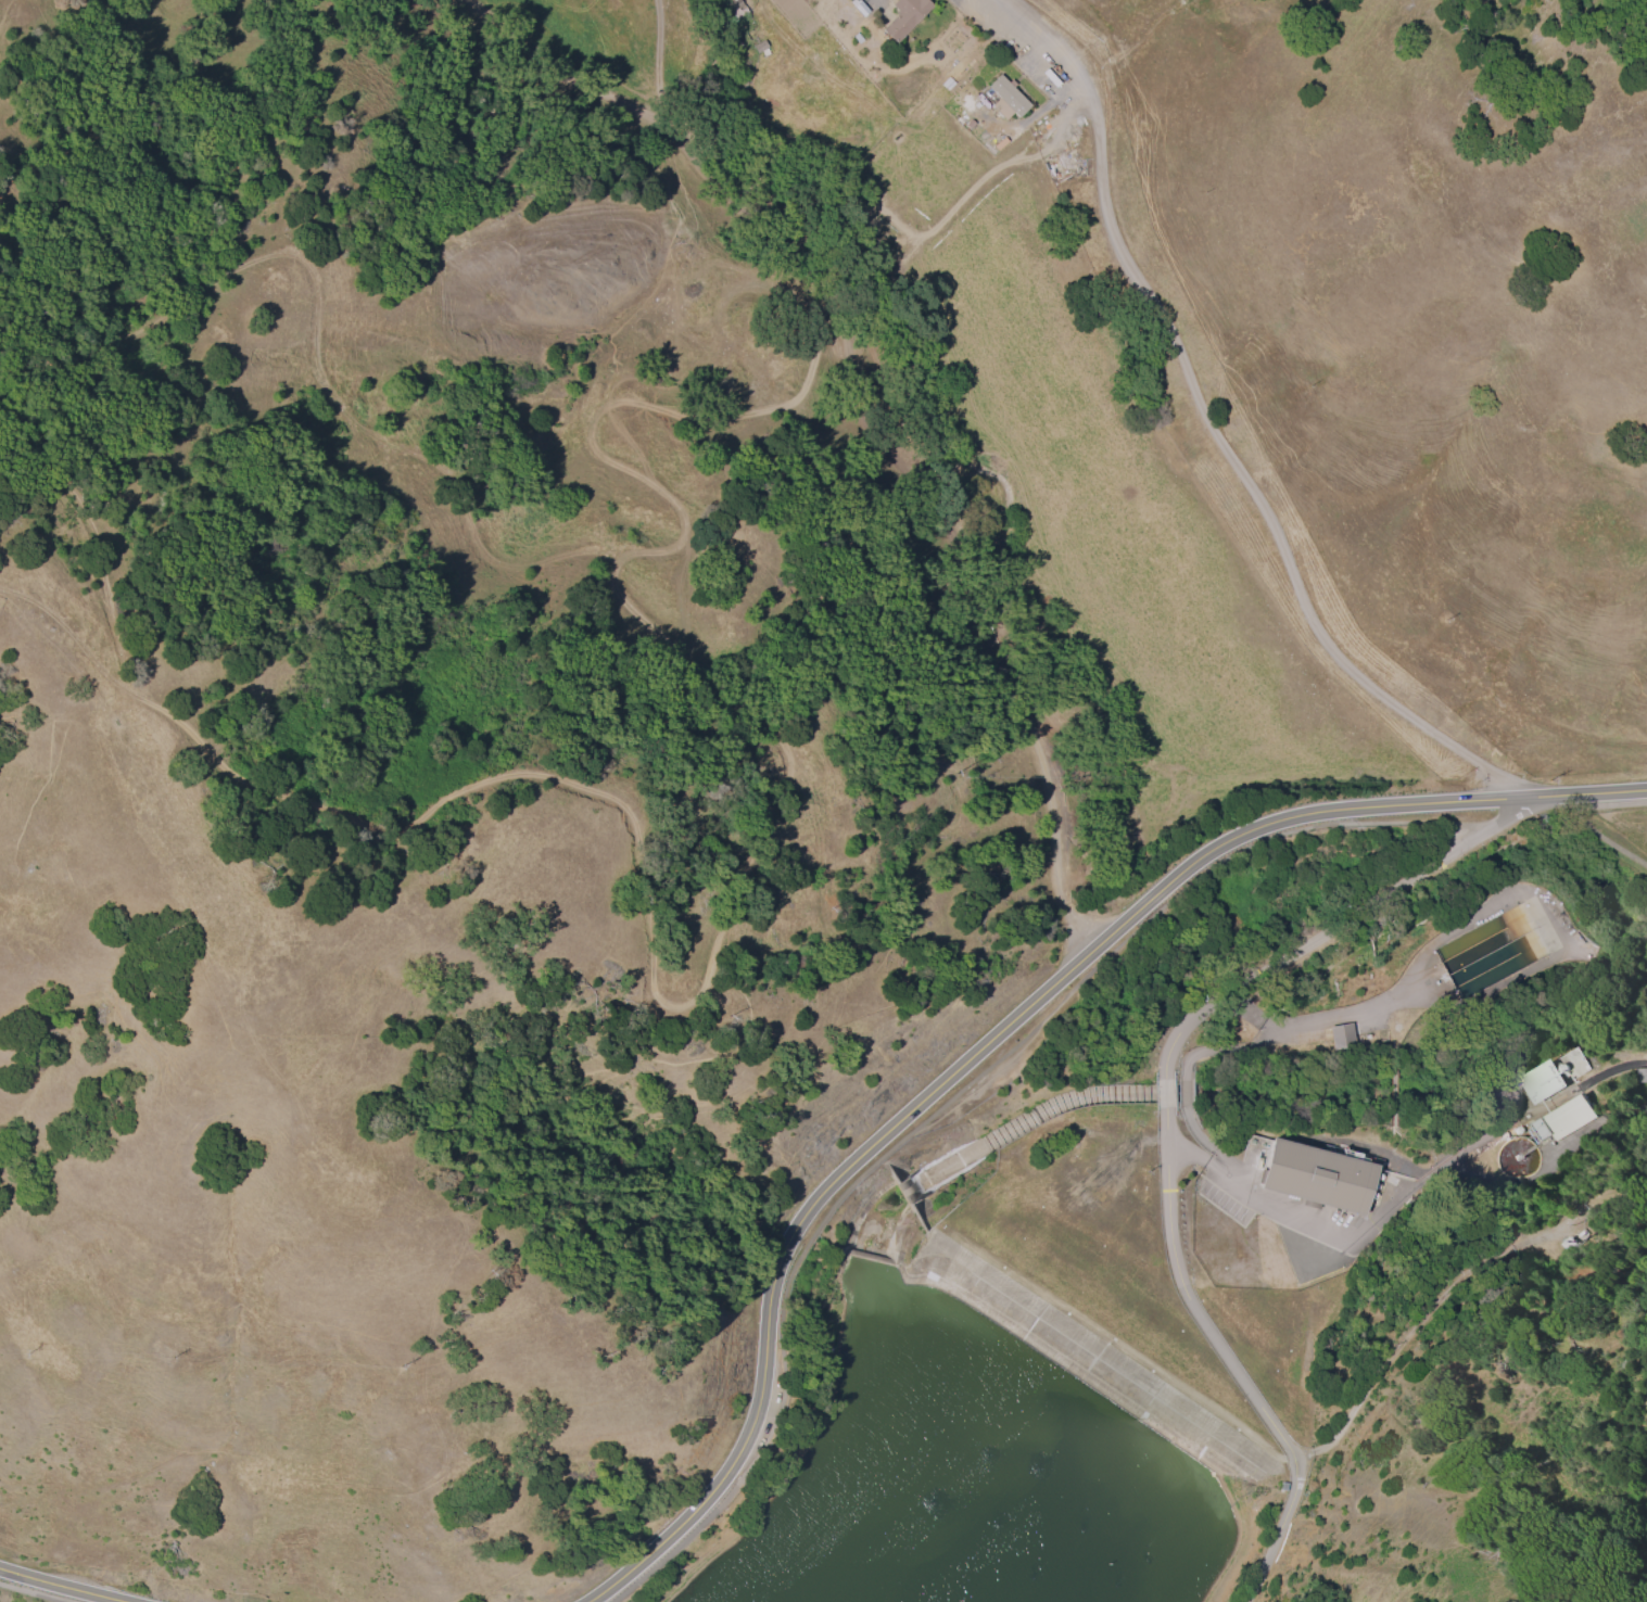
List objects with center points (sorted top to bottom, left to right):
building: (903, 16)
building: (1006, 97)
road: (1214, 435)
crop: (1275, 444)
road: (1599, 830)
road: (1318, 907)
building: (1491, 950)
road: (1372, 1013)
road: (1004, 1033)
building: (1340, 1034)
building: (1640, 1073)
river: (1427, 1076)
building: (1540, 1082)
road: (1168, 1092)
building: (1563, 1118)
river: (1006, 1136)
building: (1316, 1174)
road: (1368, 1229)
road: (1415, 1331)
road: (1234, 1357)
dam: (1064, 1363)
park: (1495, 1450)
road: (54, 1587)

